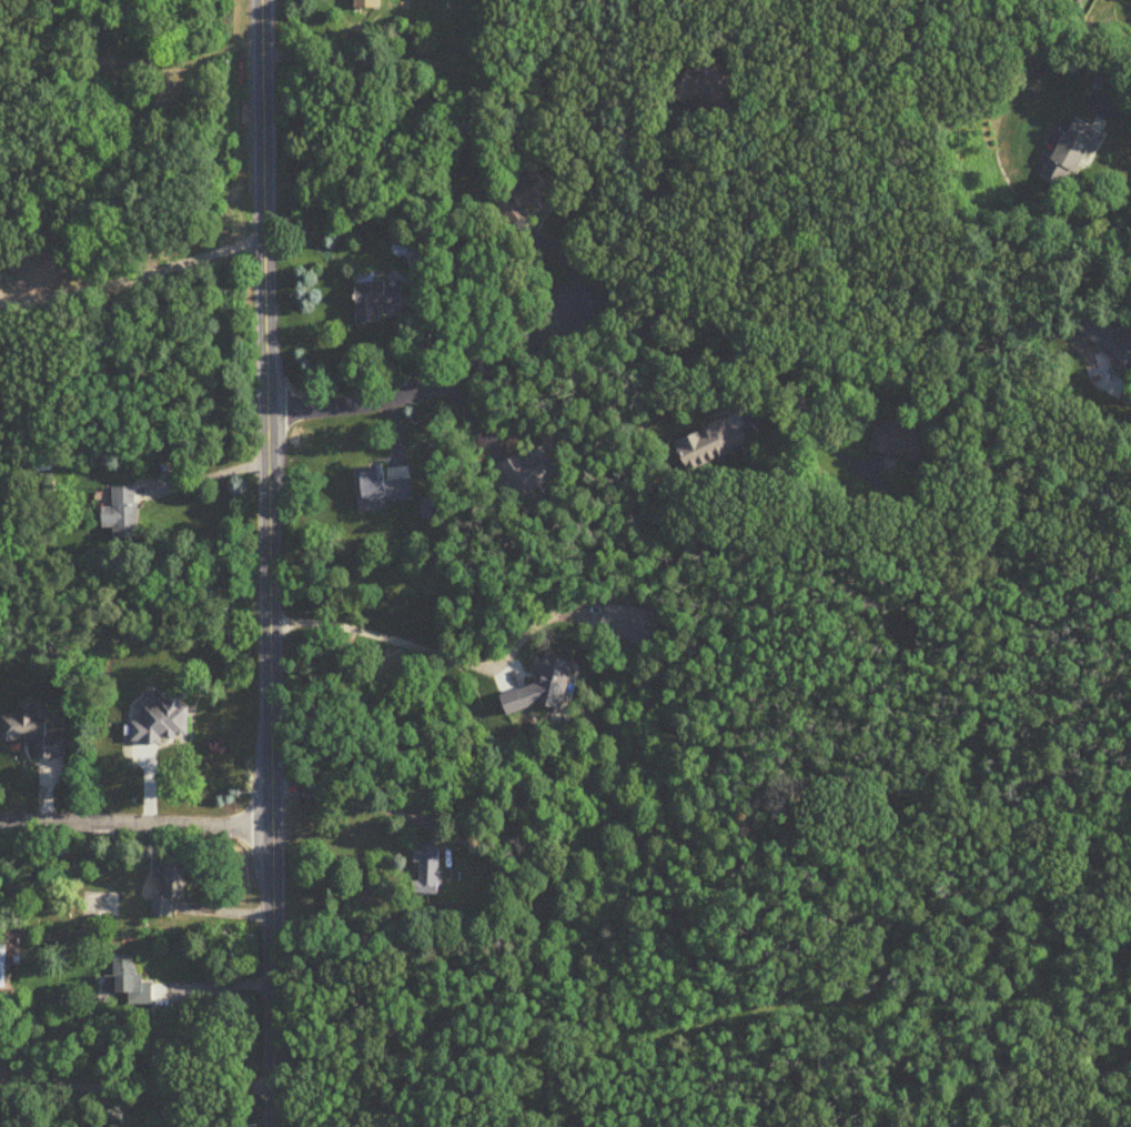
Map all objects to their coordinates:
building: (367, 4)
building: (705, 89)
road: (1121, 110)
building: (1071, 154)
building: (525, 198)
road: (638, 215)
road: (133, 278)
building: (377, 301)
building: (1114, 334)
road: (753, 360)
road: (433, 386)
building: (903, 439)
building: (714, 444)
building: (532, 472)
road: (208, 476)
building: (383, 486)
building: (123, 513)
road: (269, 563)
road: (385, 641)
building: (164, 722)
building: (33, 734)
road: (352, 801)
road: (135, 823)
building: (427, 869)
building: (171, 888)
building: (130, 984)
road: (215, 986)

